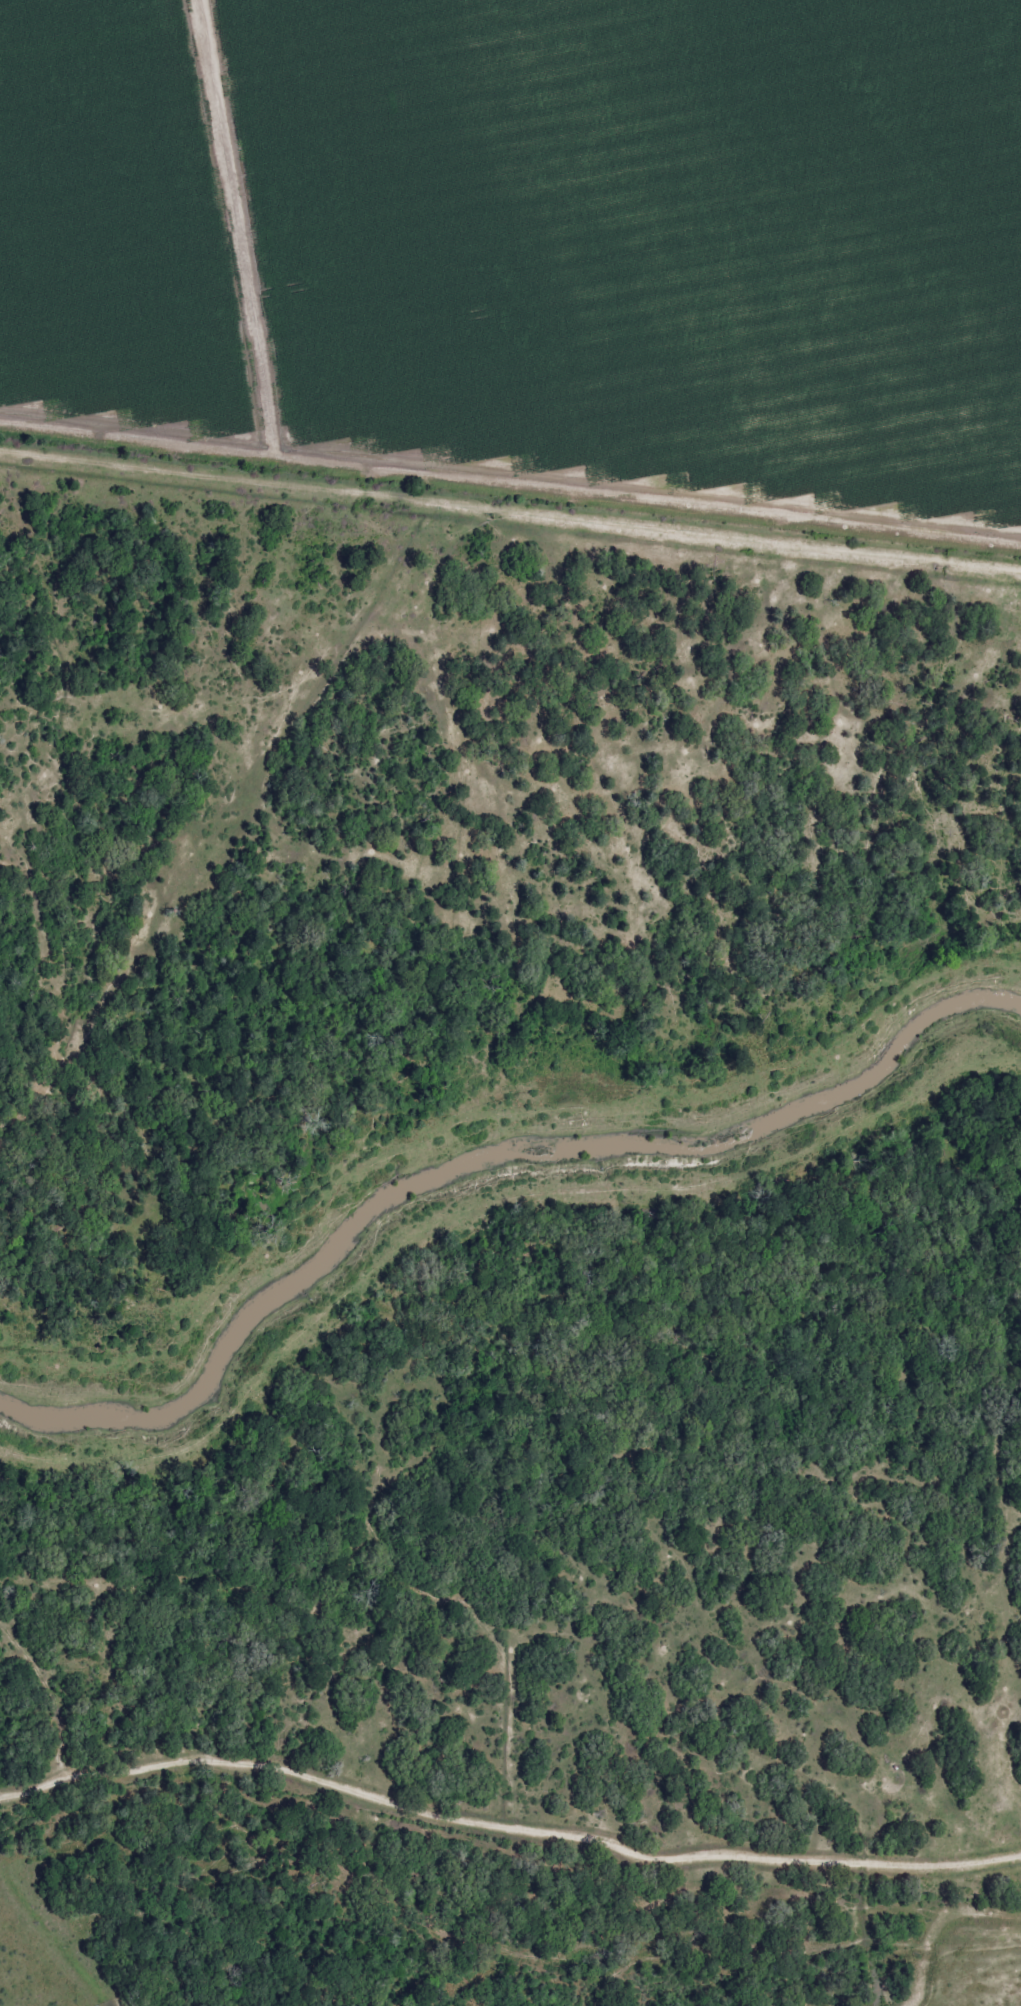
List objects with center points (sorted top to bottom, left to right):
road: (510, 508)
river: (480, 1162)
road: (27, 1784)
road: (536, 1822)

